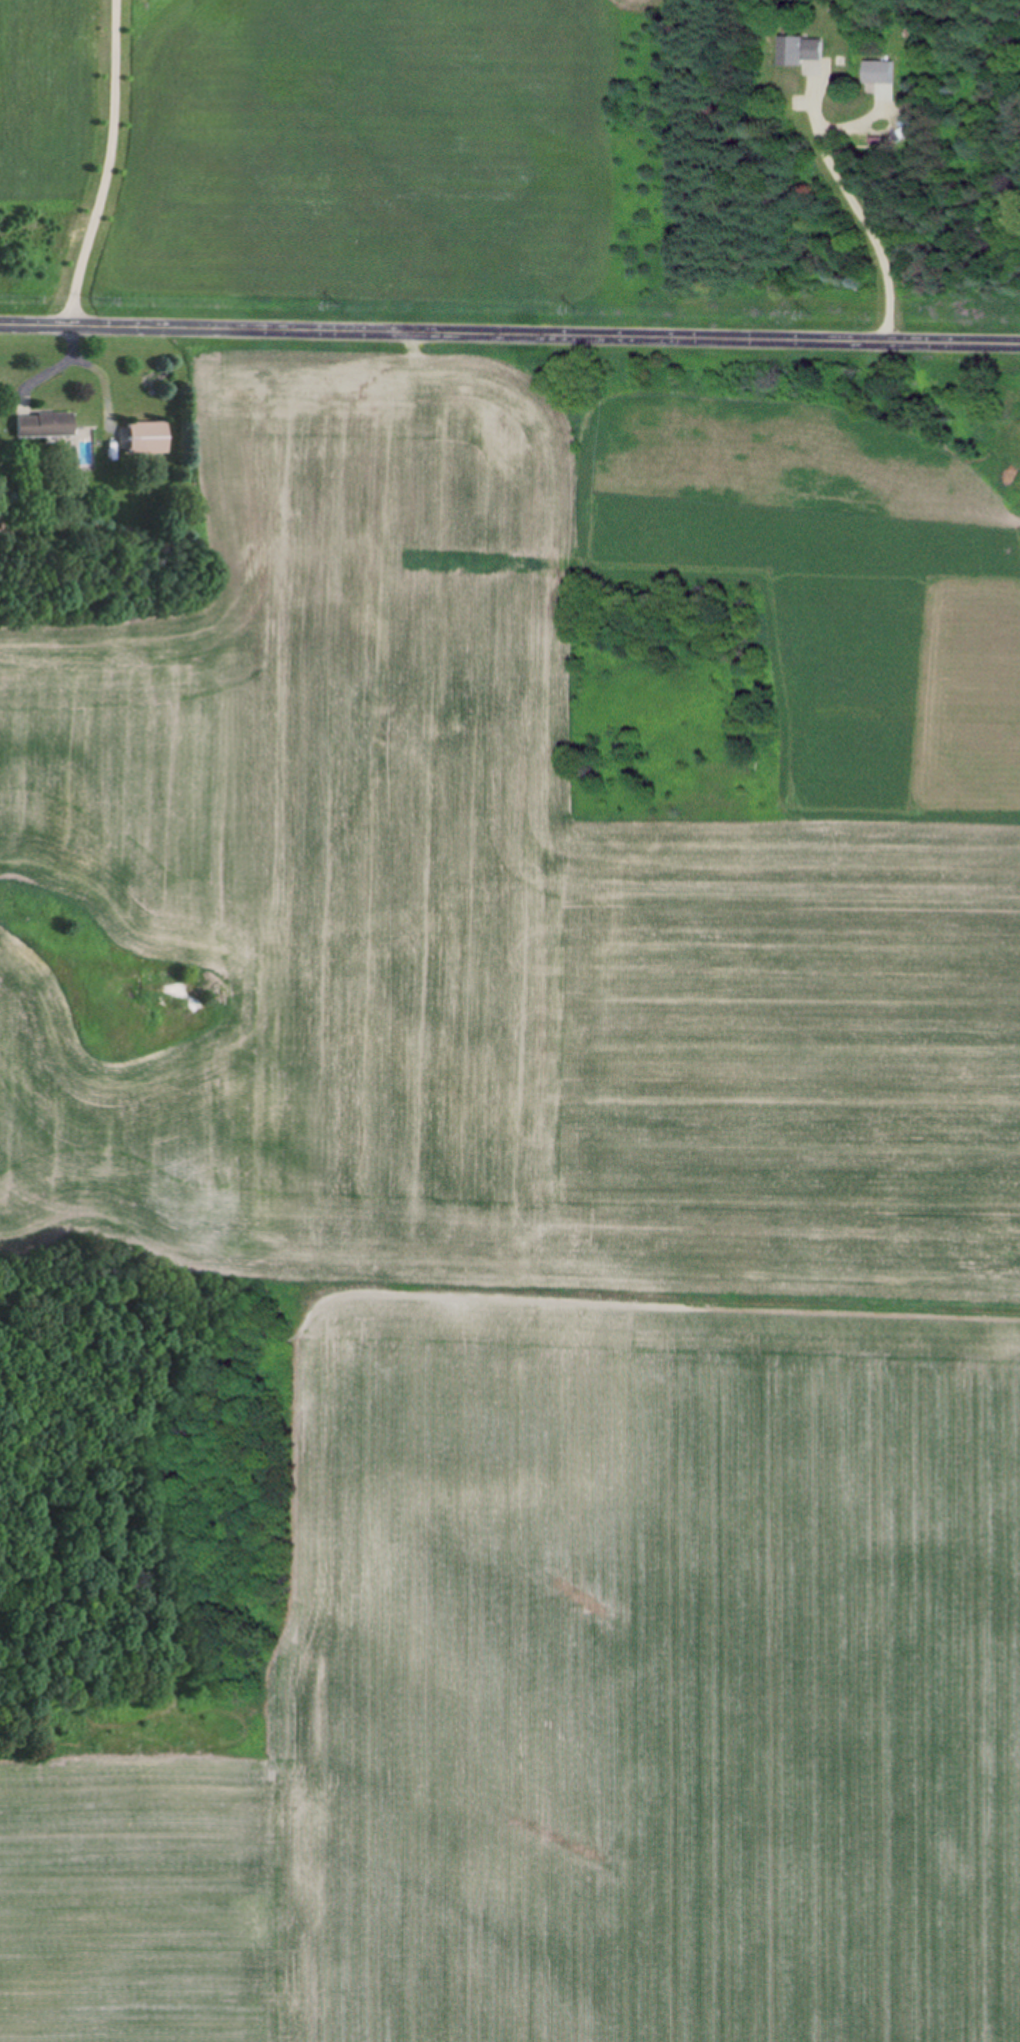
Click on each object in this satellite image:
building: (805, 50)
building: (884, 72)
road: (510, 340)
building: (48, 426)
building: (152, 439)

